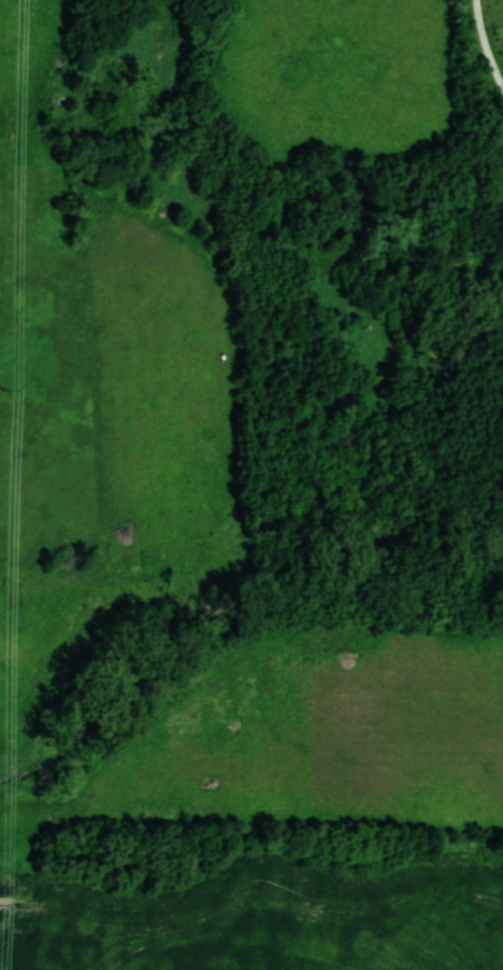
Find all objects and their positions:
road: (486, 43)
power tower: (2, 392)

